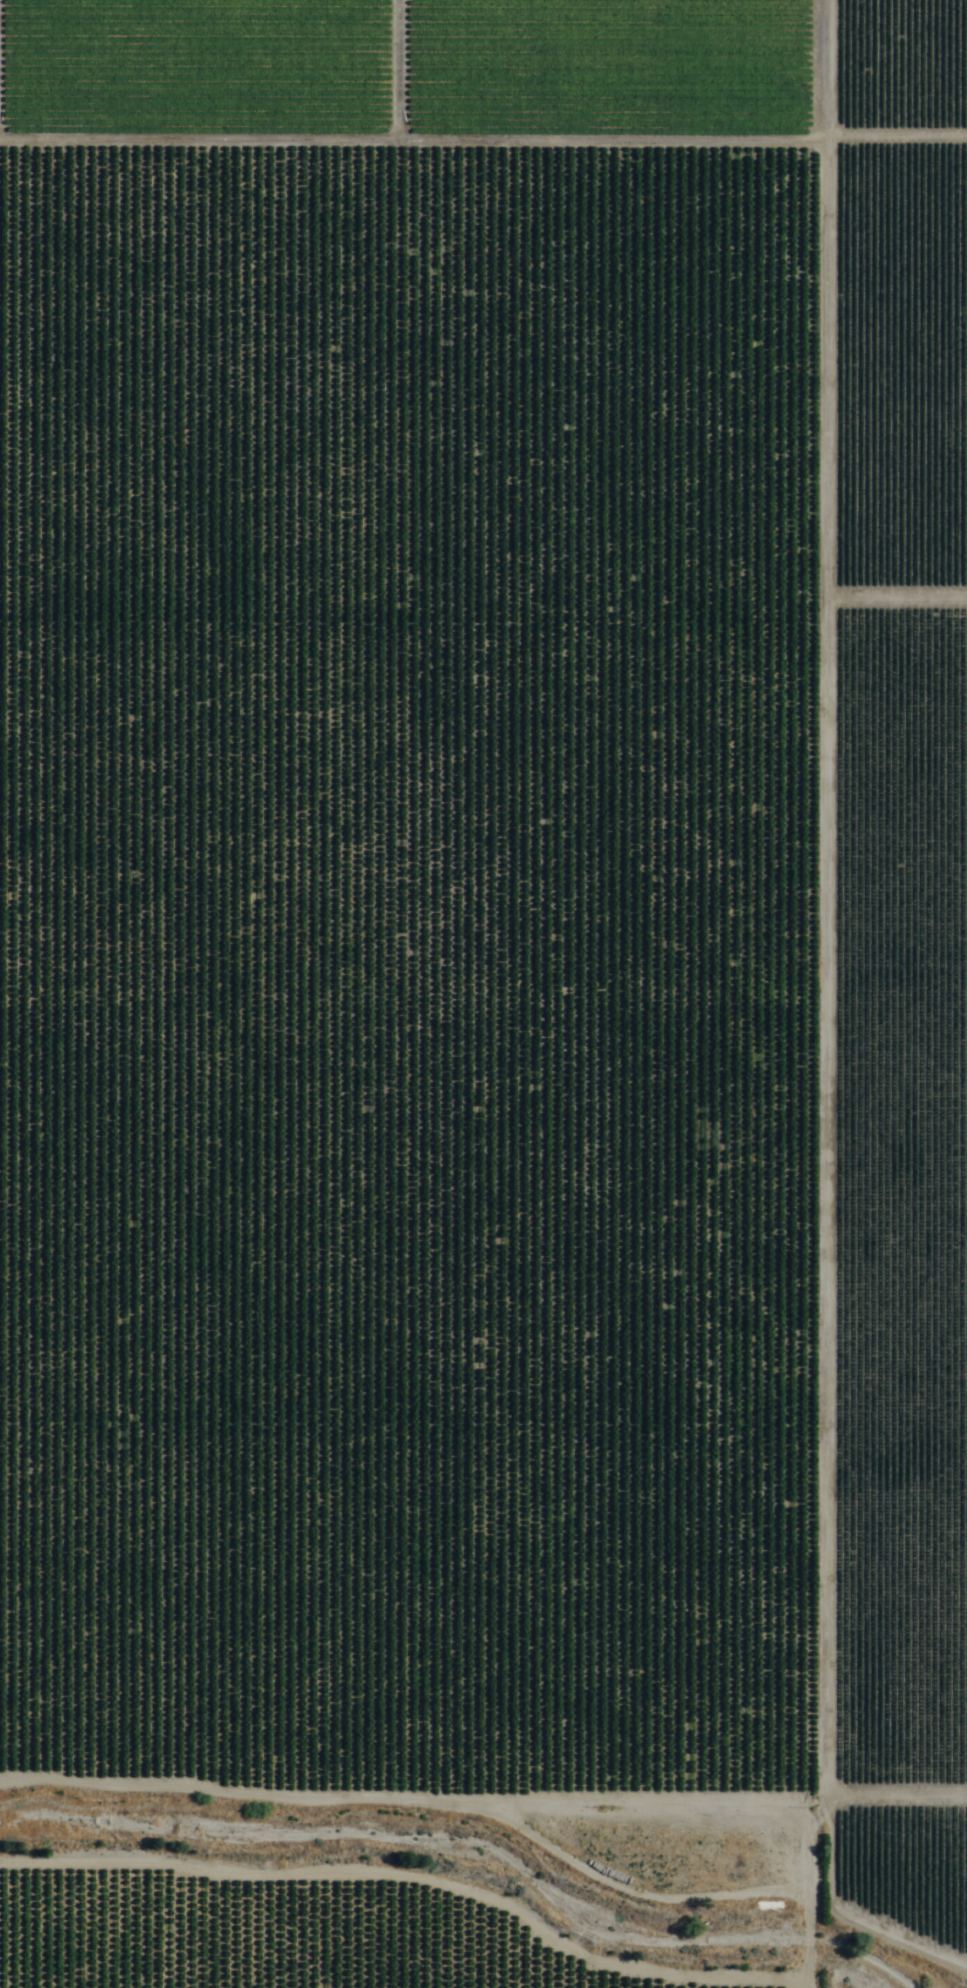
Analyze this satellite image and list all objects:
road: (483, 156)
crop: (482, 920)
road: (770, 1083)
road: (483, 1742)

